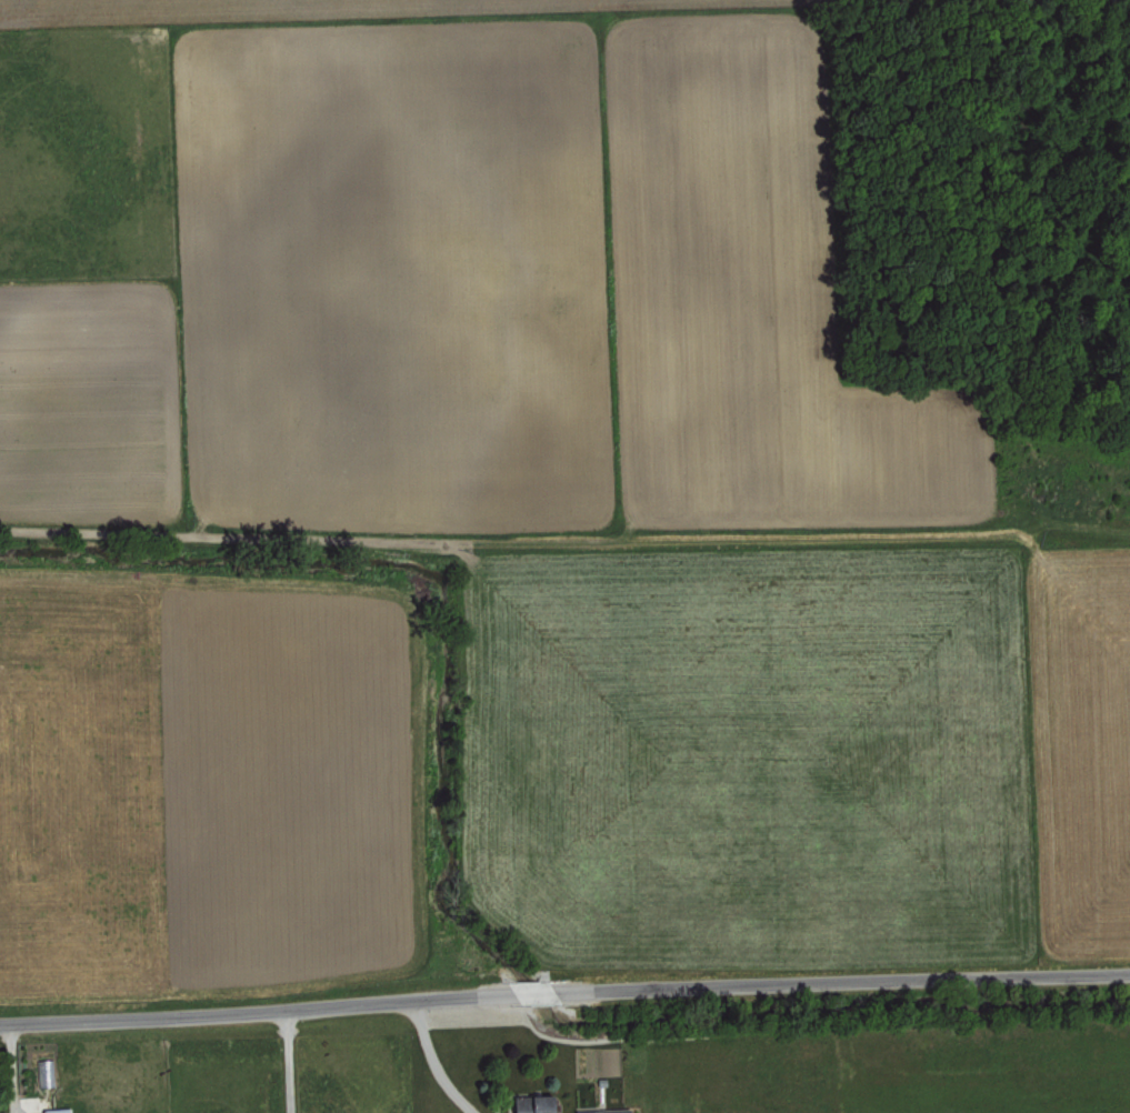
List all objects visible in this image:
road: (564, 994)
road: (284, 1063)
building: (46, 1072)
building: (532, 1103)
building: (57, 1110)
building: (603, 1111)

